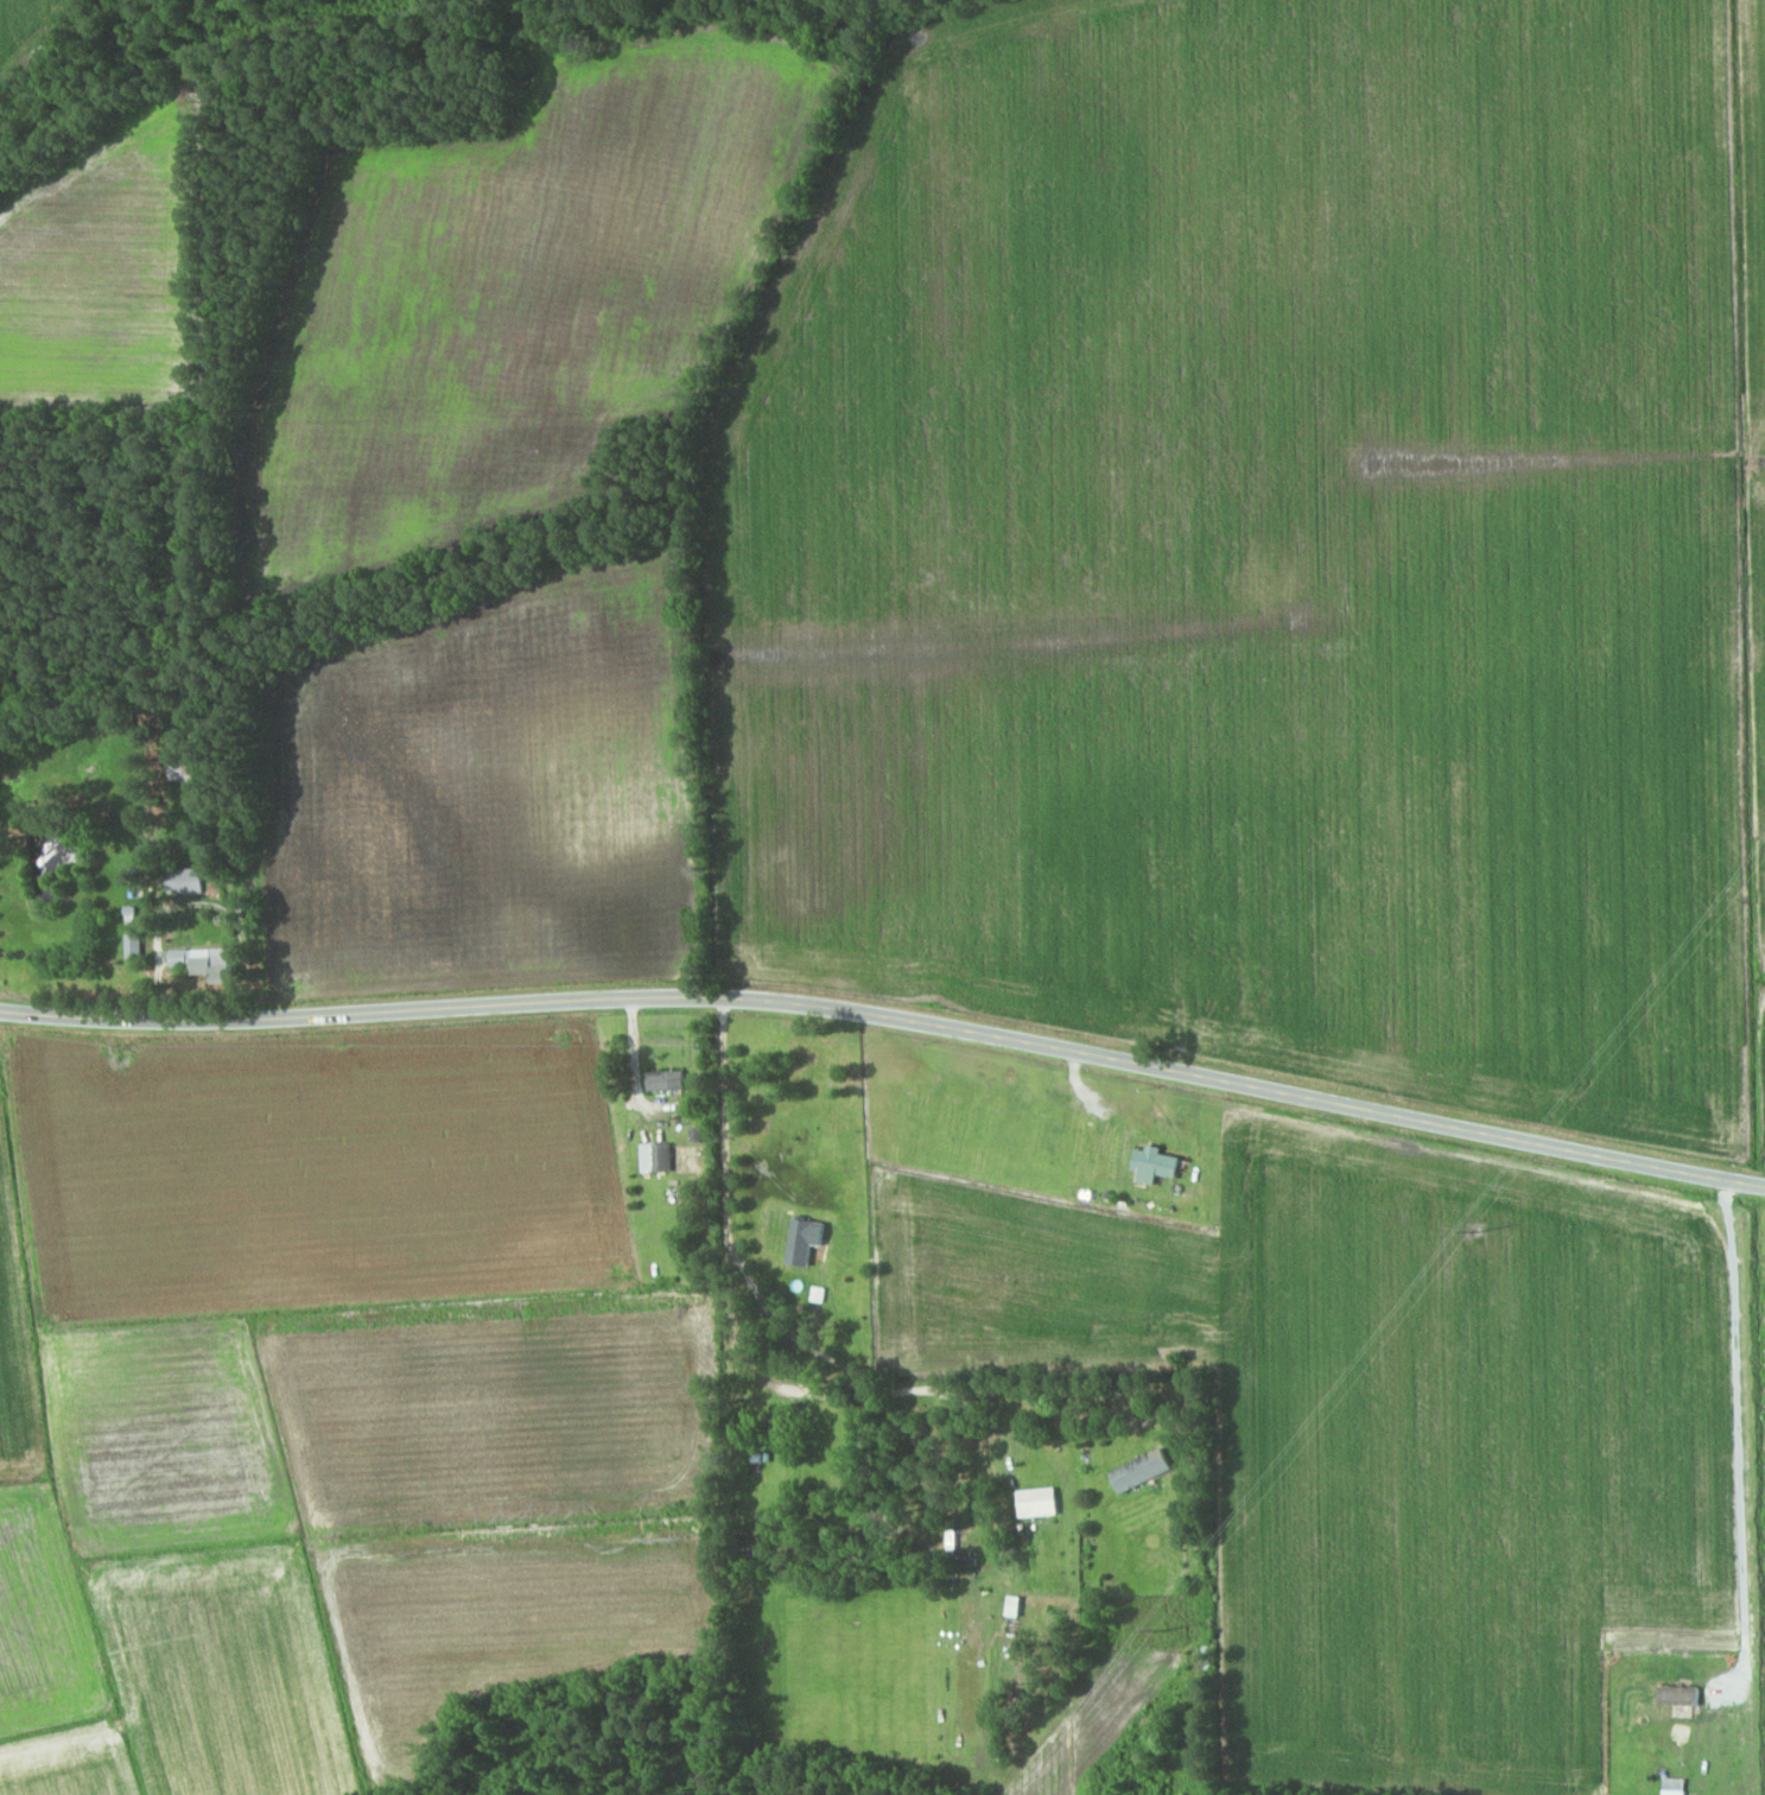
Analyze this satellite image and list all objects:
building: (191, 769)
building: (180, 879)
building: (134, 946)
building: (14, 960)
building: (207, 964)
road: (889, 1016)
building: (667, 1082)
building: (656, 1157)
power tower: (1479, 1231)
building: (1141, 1470)
building: (1012, 1606)
power tower: (1163, 1630)

